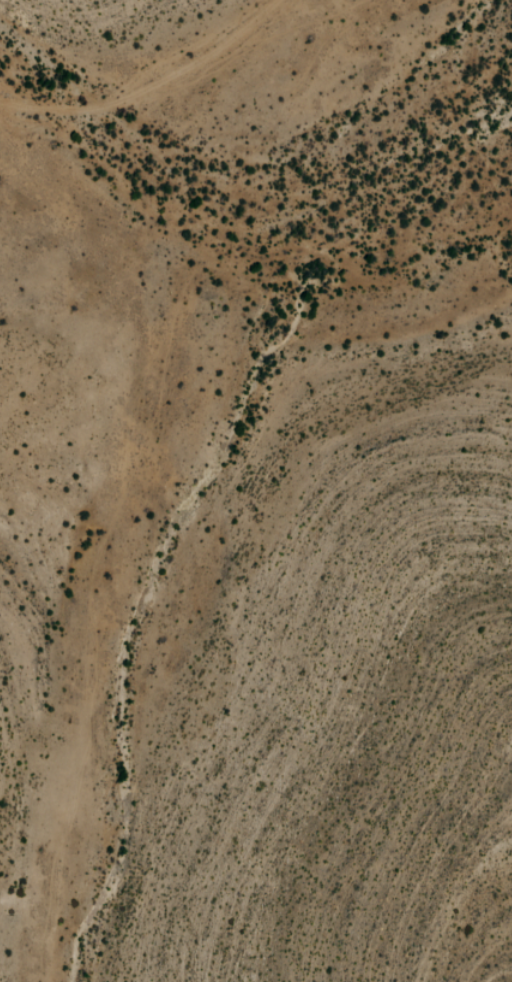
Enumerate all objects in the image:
road: (181, 72)
road: (35, 128)

